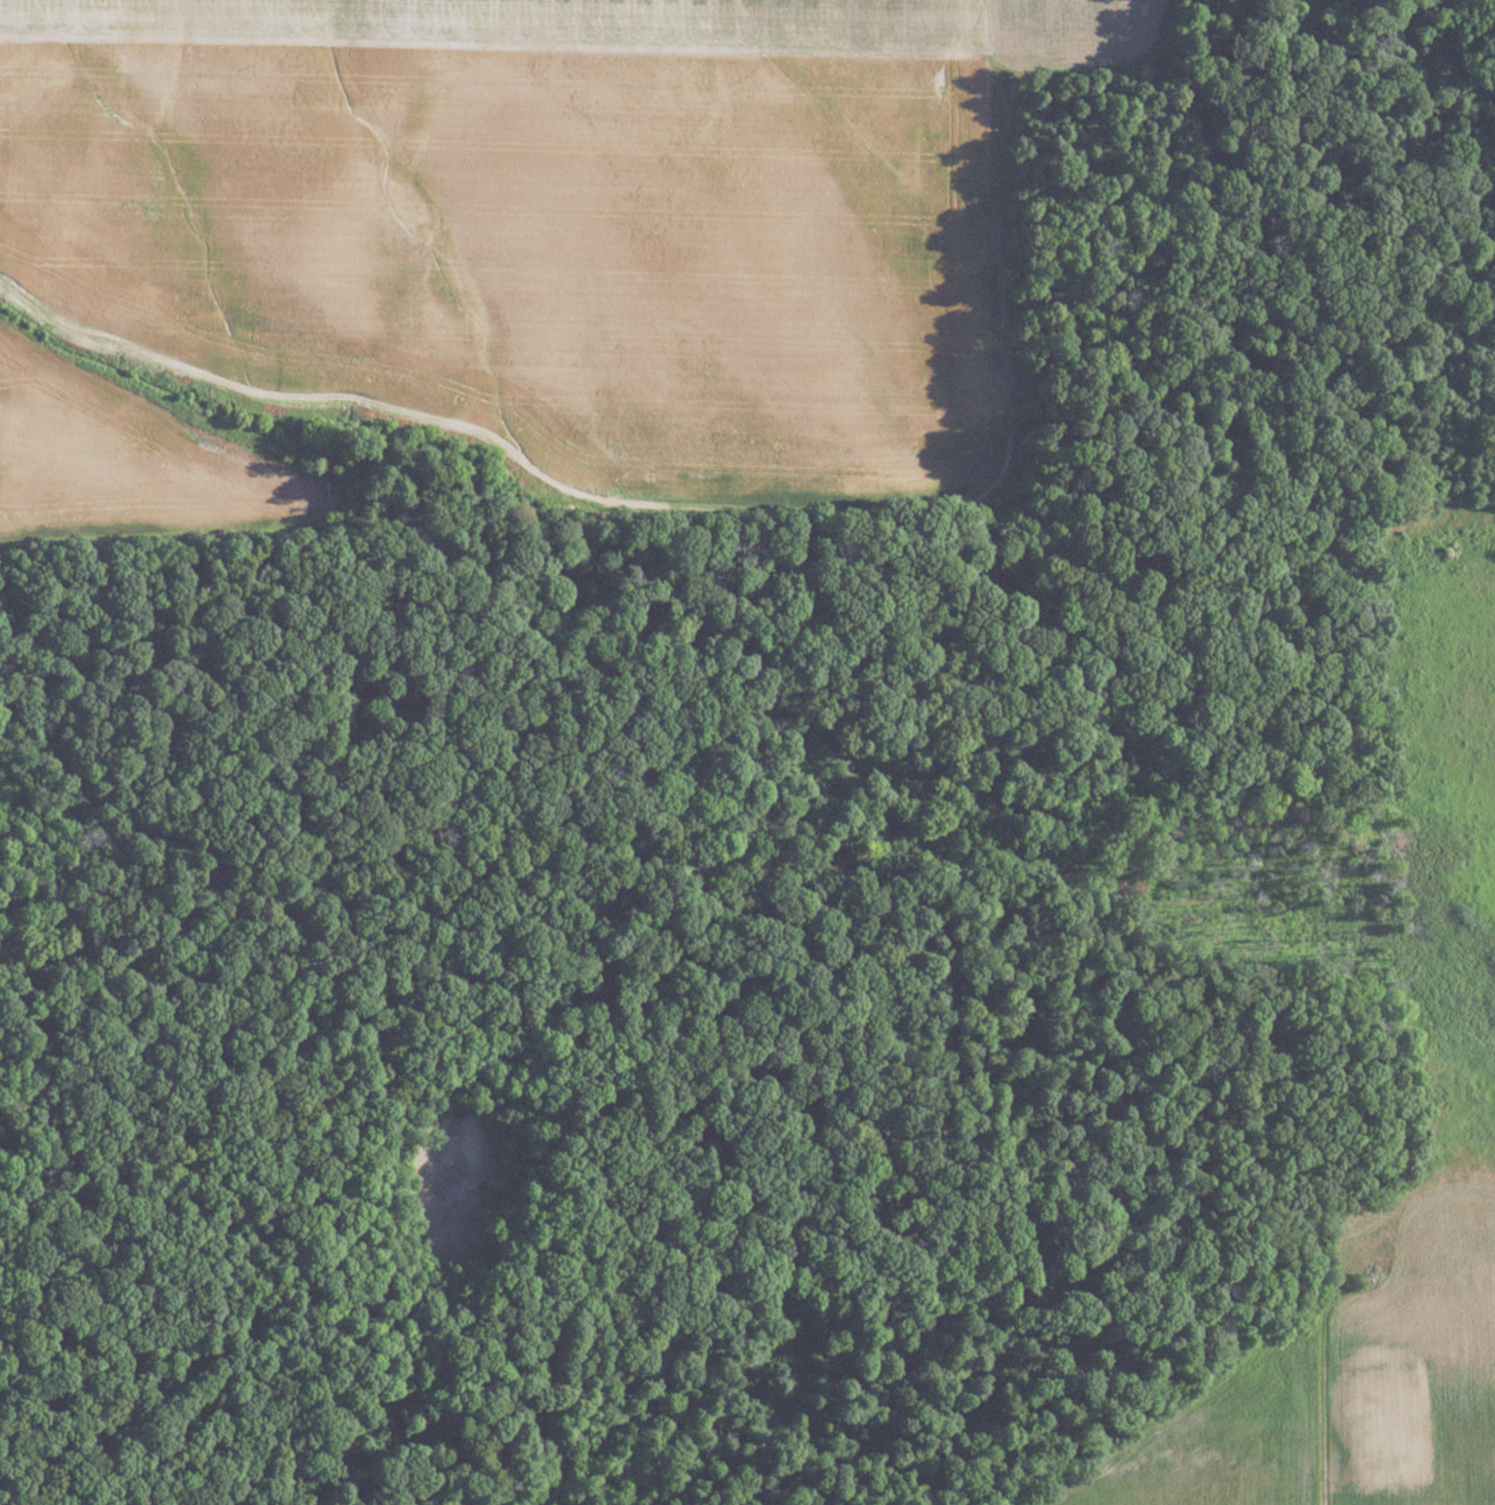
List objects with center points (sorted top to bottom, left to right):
road: (1321, 1360)

